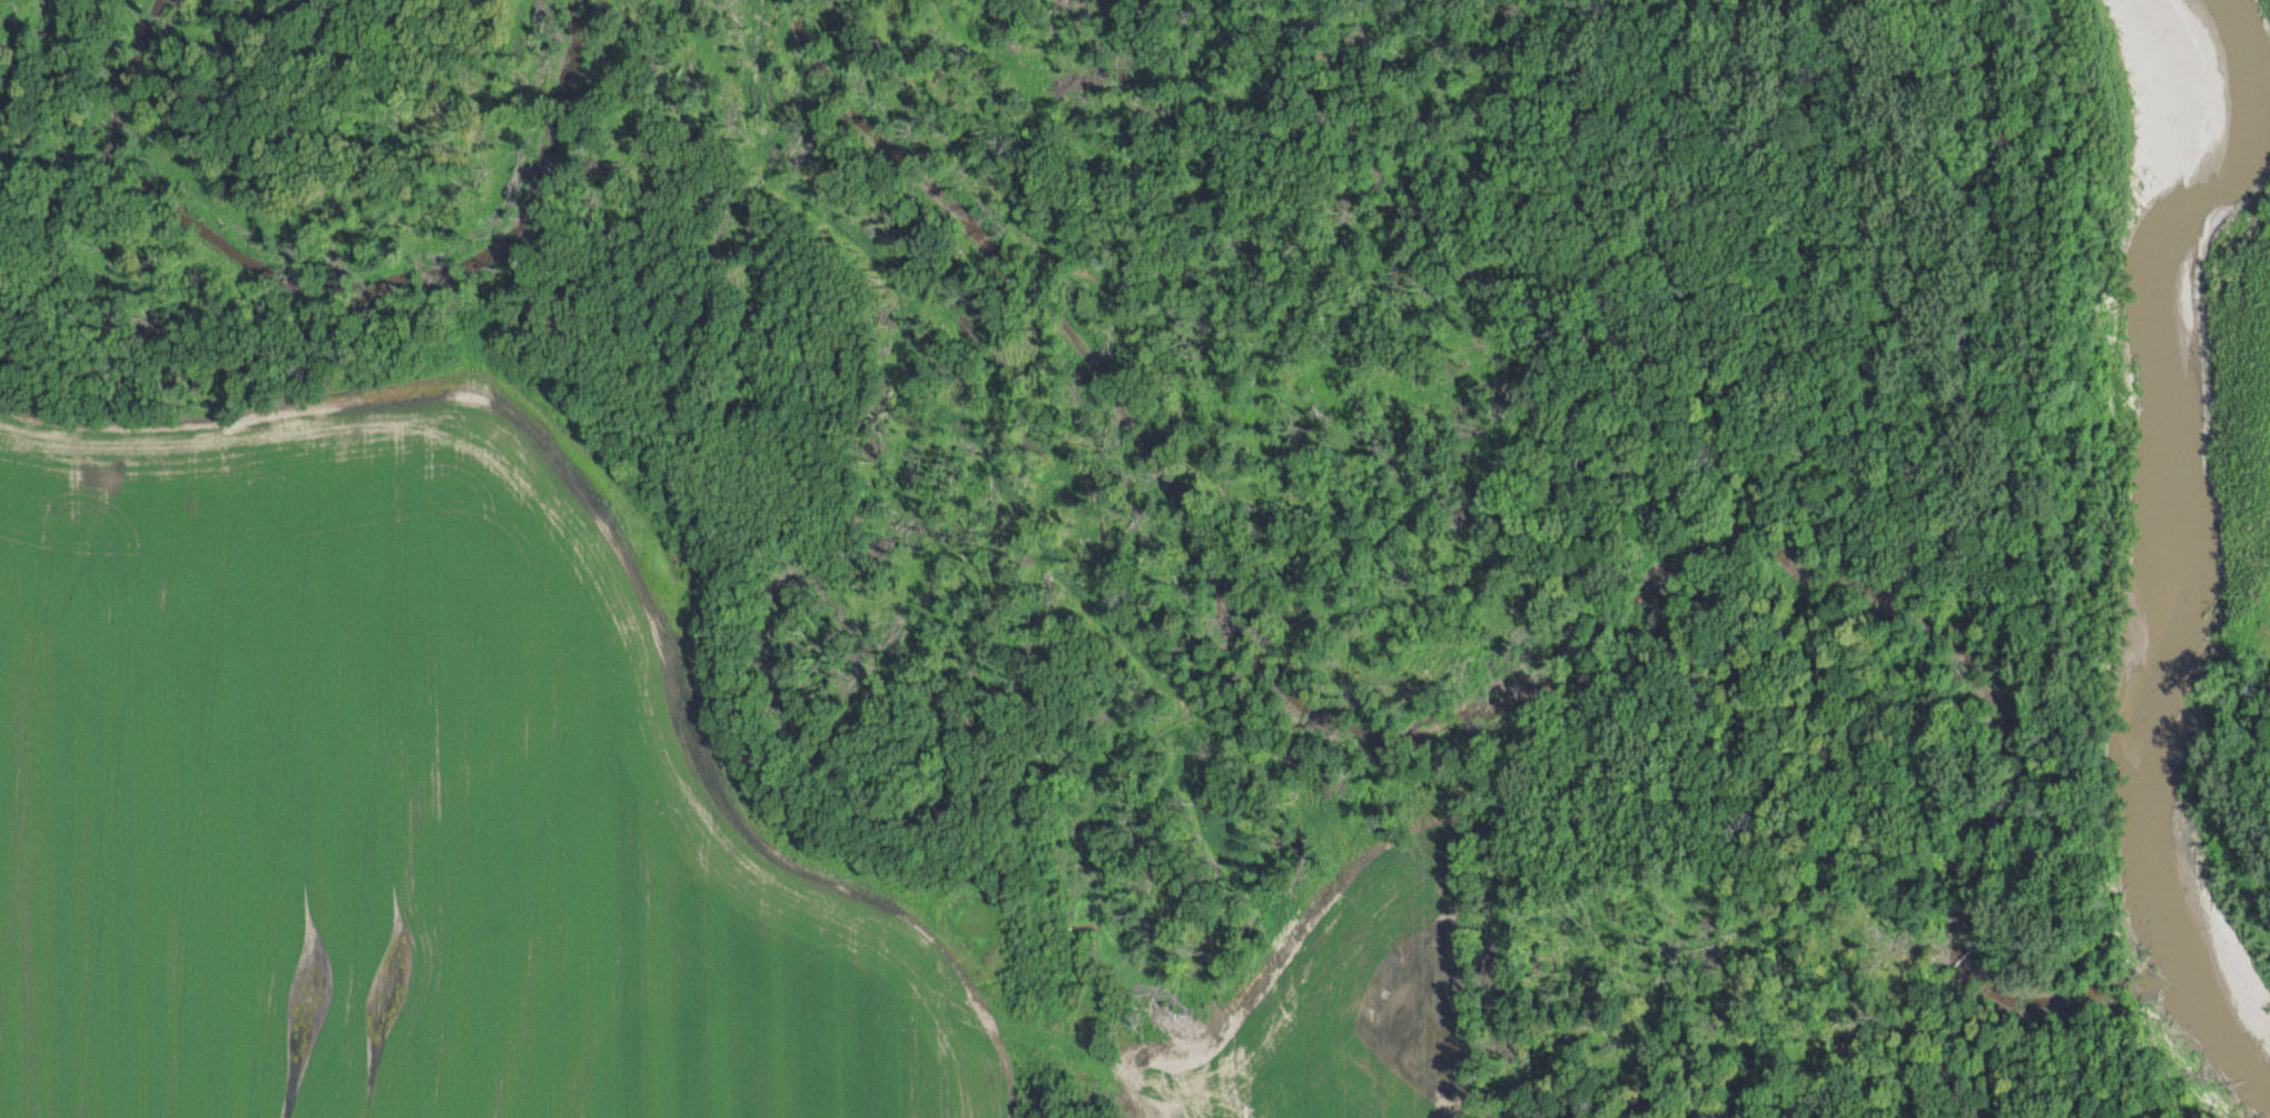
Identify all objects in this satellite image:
river: (2140, 538)

